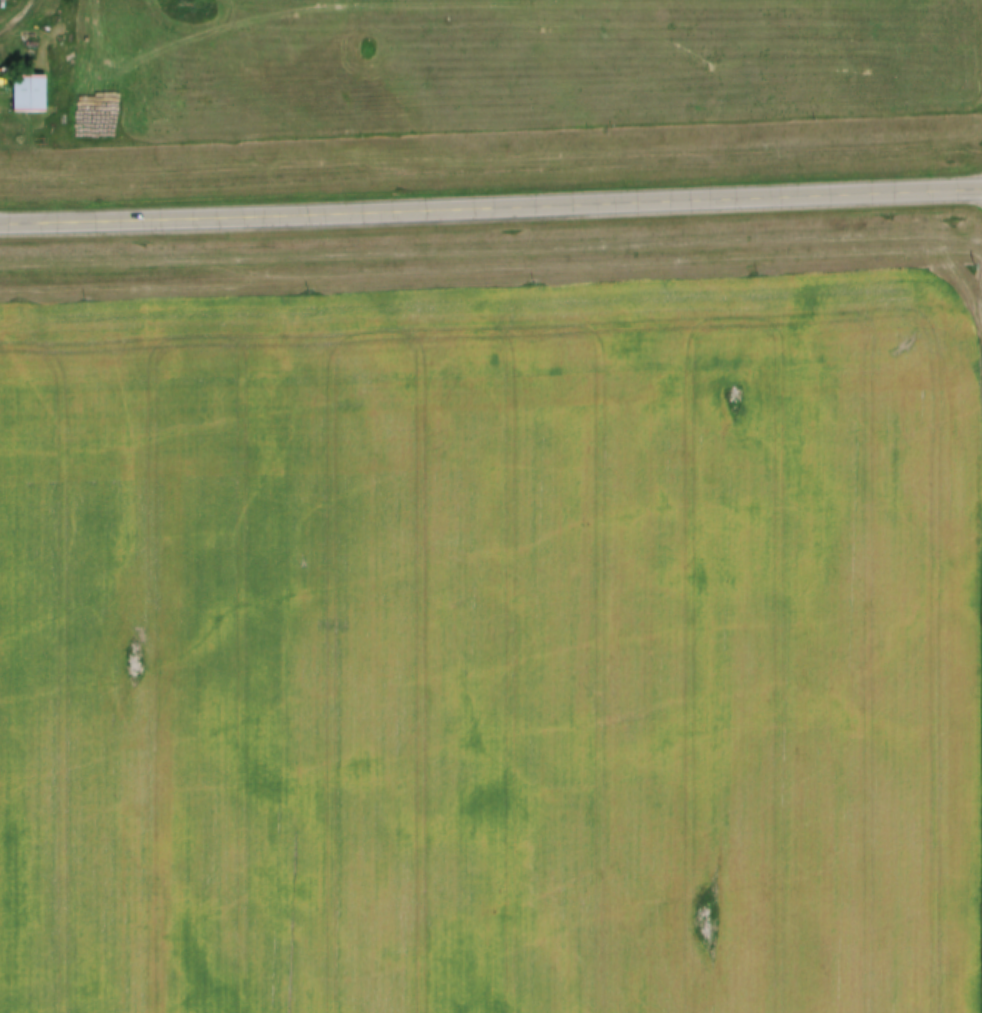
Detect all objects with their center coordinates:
building: (31, 95)
road: (490, 206)

